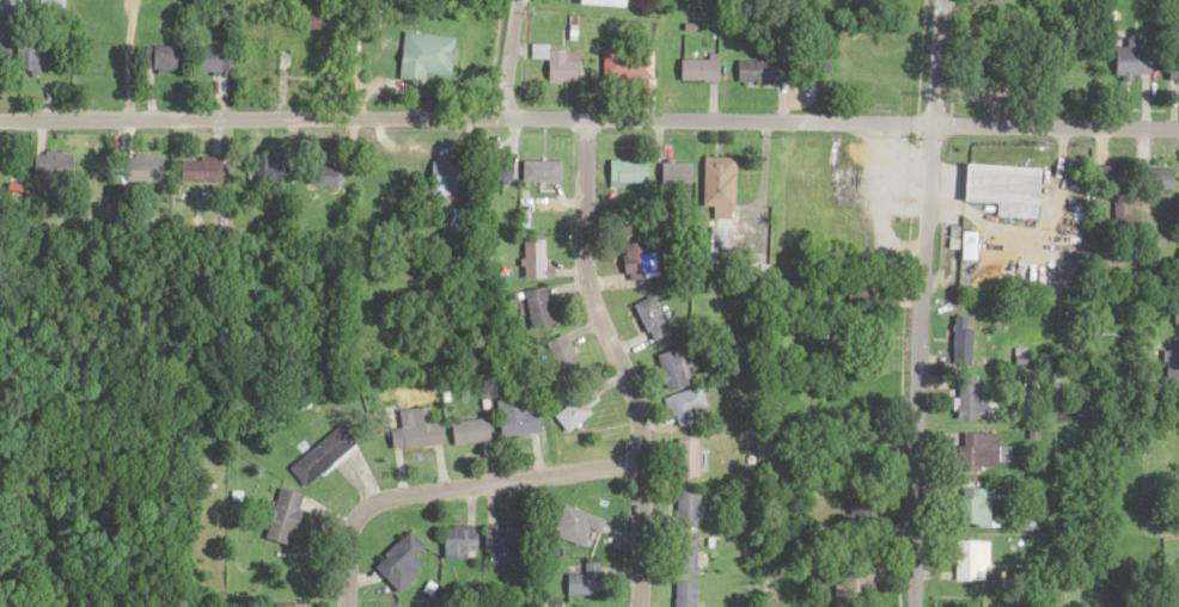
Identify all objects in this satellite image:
building: (33, 5)
building: (607, 5)
road: (507, 57)
building: (432, 59)
building: (1134, 62)
building: (165, 63)
building: (564, 63)
building: (218, 65)
building: (304, 66)
building: (631, 66)
building: (703, 69)
building: (765, 72)
road: (589, 116)
building: (43, 164)
building: (259, 165)
building: (488, 166)
building: (132, 167)
building: (532, 167)
building: (189, 168)
building: (619, 168)
building: (668, 168)
building: (1112, 174)
building: (310, 177)
building: (1153, 177)
building: (433, 178)
building: (711, 179)
building: (997, 184)
building: (711, 235)
building: (524, 255)
building: (633, 257)
building: (530, 302)
road: (918, 302)
building: (1173, 308)
building: (645, 314)
building: (959, 343)
road: (609, 361)
building: (664, 364)
building: (1171, 366)
building: (965, 396)
building: (679, 401)
building: (570, 404)
building: (511, 413)
building: (409, 424)
building: (463, 427)
building: (973, 447)
building: (316, 452)
building: (680, 454)
road: (444, 486)
building: (683, 502)
building: (967, 503)
building: (277, 513)
building: (568, 521)
building: (452, 538)
building: (497, 538)
building: (679, 551)
building: (391, 552)
building: (967, 557)
building: (851, 575)
building: (579, 577)
building: (679, 593)
building: (282, 602)

